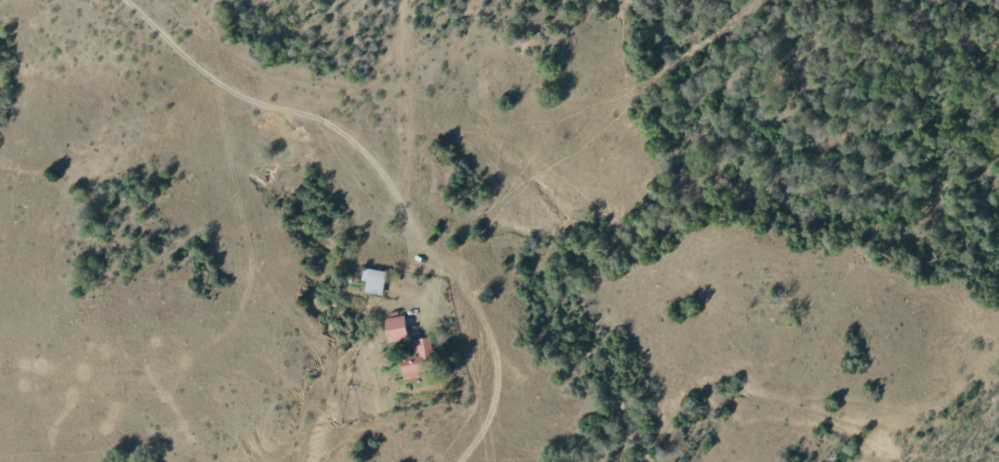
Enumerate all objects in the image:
road: (305, 115)
building: (372, 280)
building: (394, 328)
building: (415, 358)

